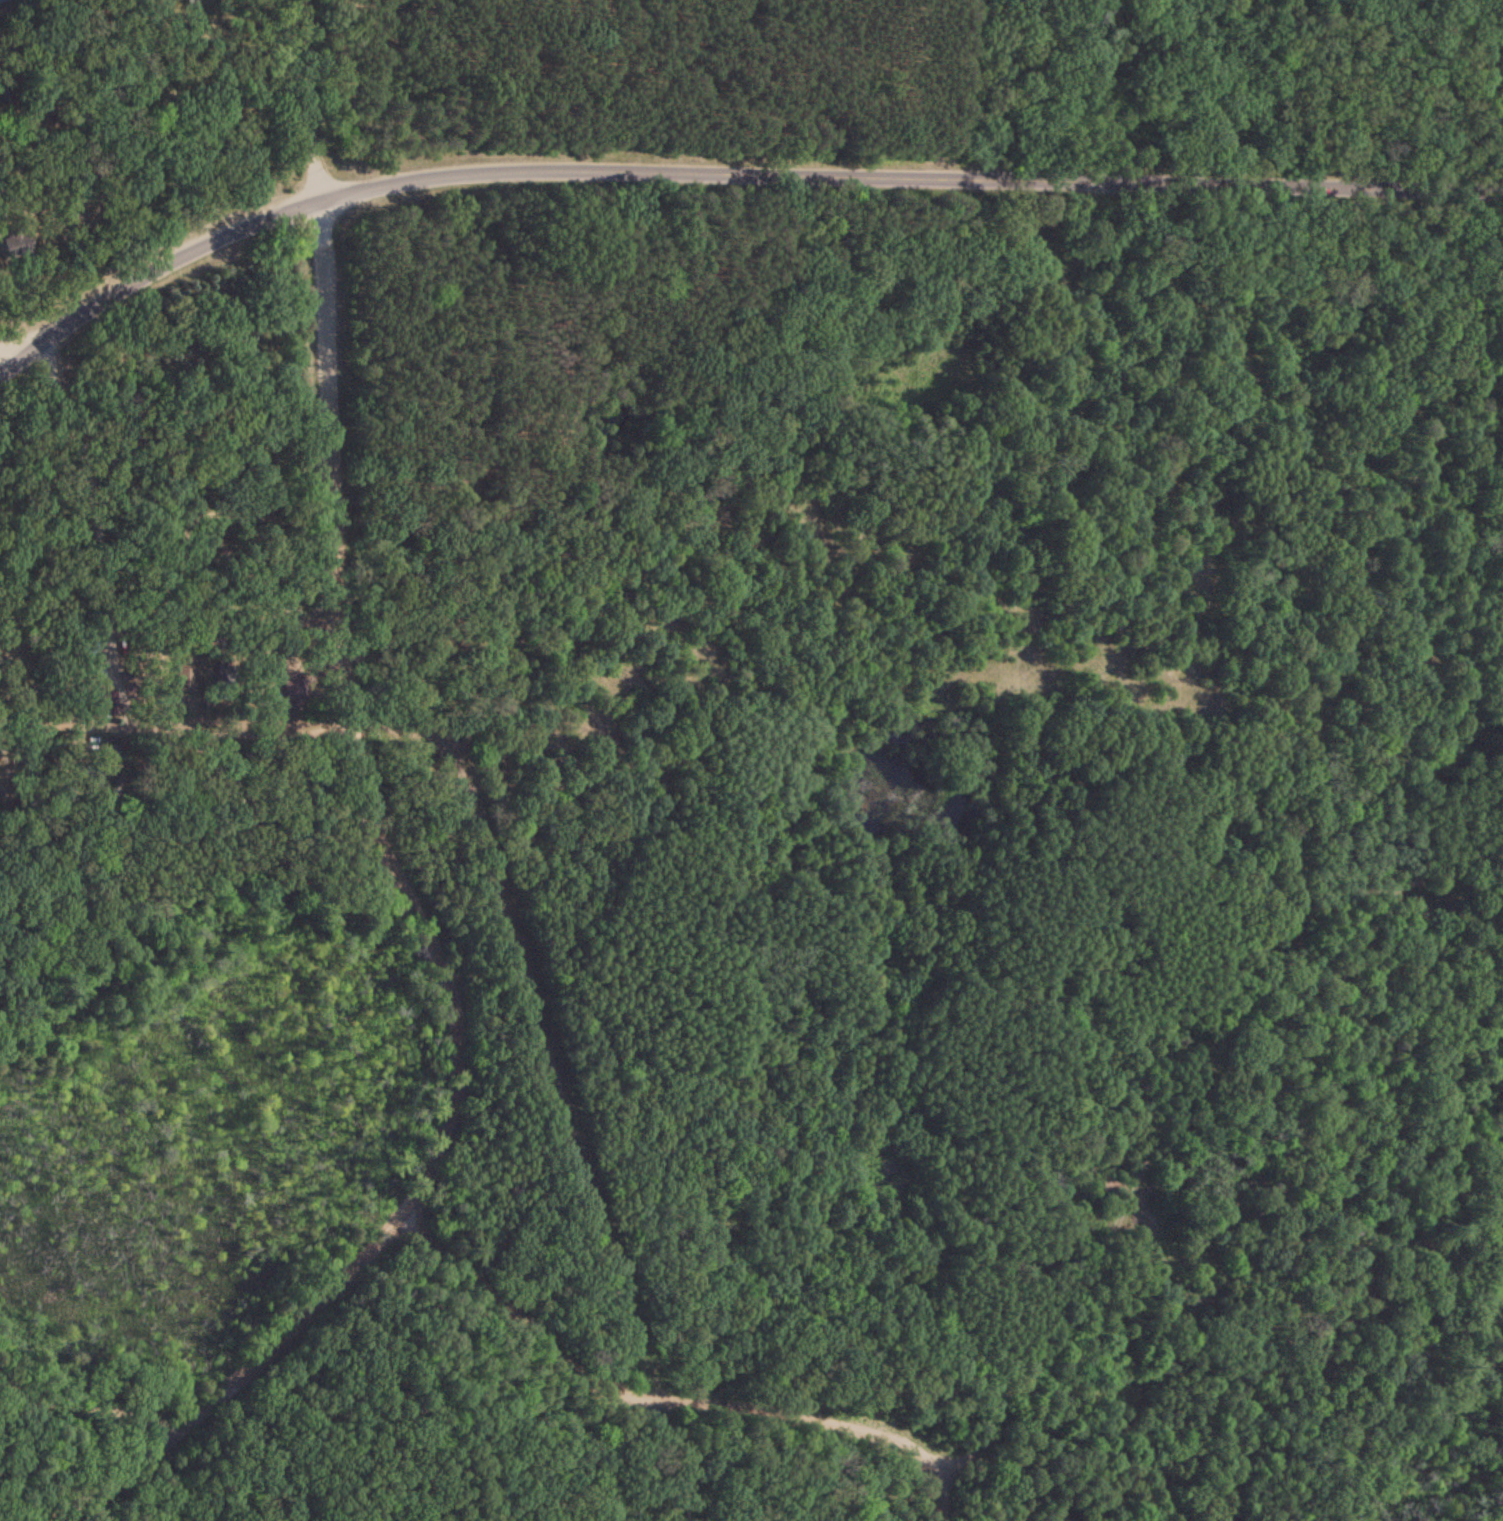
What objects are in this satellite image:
road: (727, 140)
building: (14, 244)
road: (173, 693)
road: (390, 854)
road: (1176, 1079)
road: (641, 1366)
road: (78, 1376)
road: (935, 1483)

